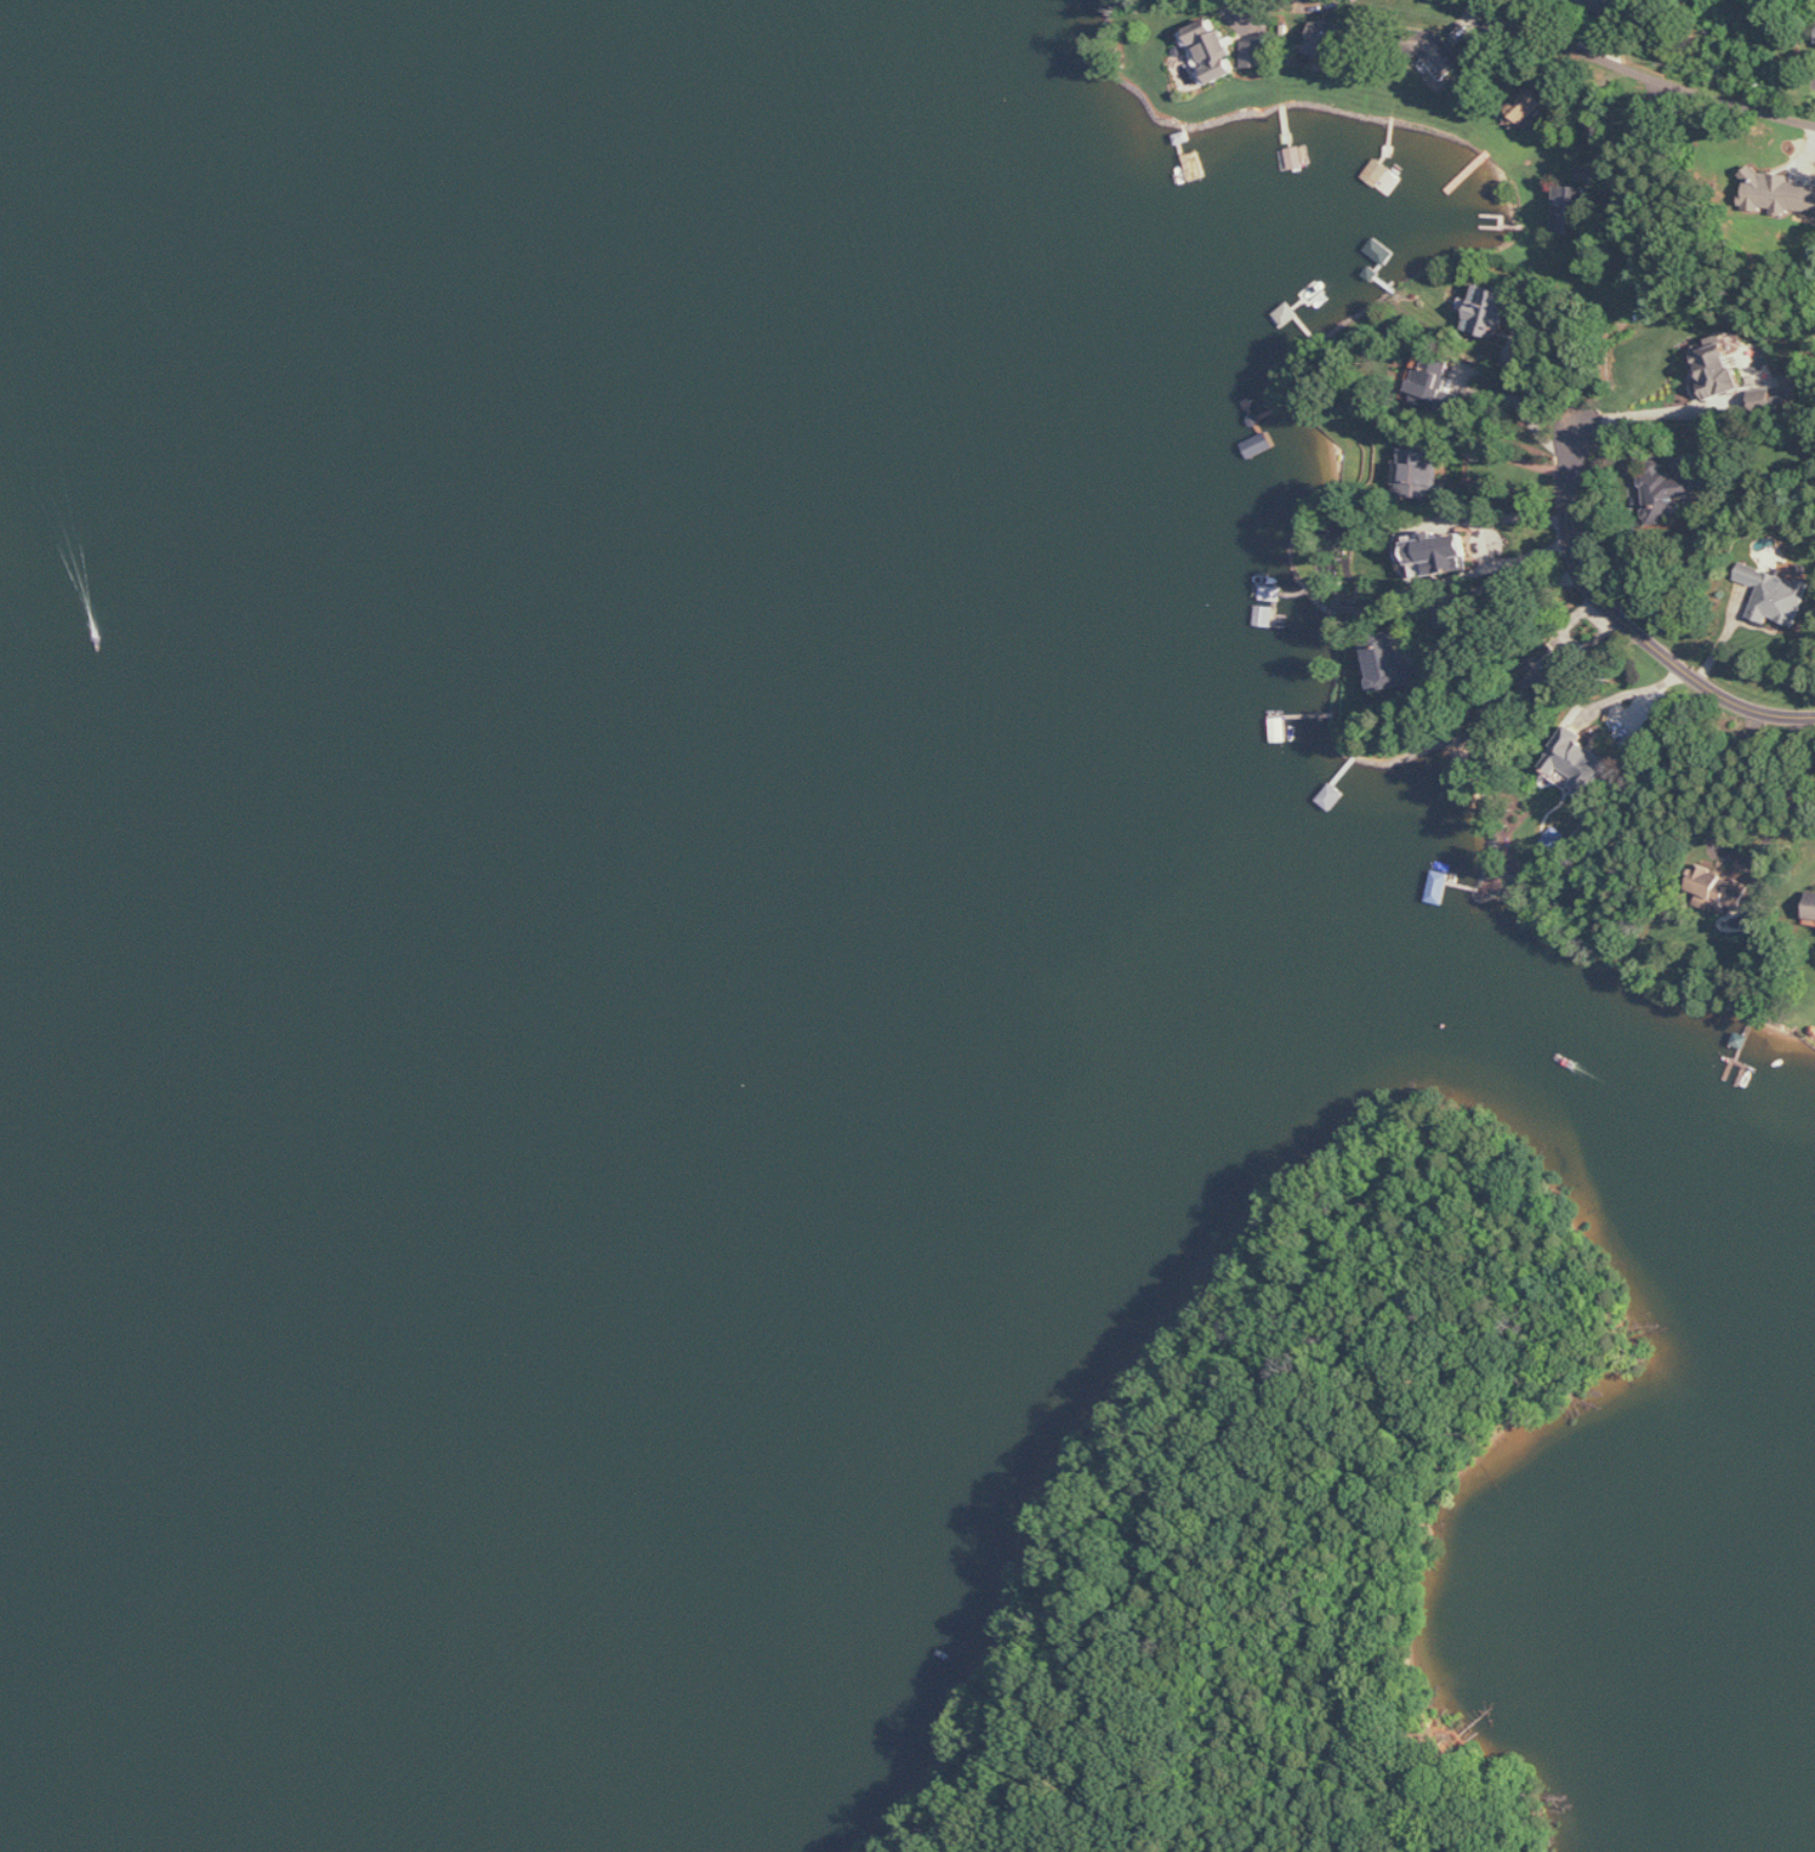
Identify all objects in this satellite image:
building: (1604, 6)
building: (1330, 39)
building: (1214, 47)
building: (1440, 51)
building: (1258, 53)
road: (1634, 63)
building: (1527, 106)
road: (1628, 133)
building: (1779, 193)
building: (1571, 210)
building: (1487, 311)
building: (1720, 371)
building: (1432, 384)
building: (1763, 400)
road: (1648, 410)
road: (1510, 455)
building: (1419, 468)
building: (1667, 494)
road: (1484, 539)
building: (1441, 555)
building: (1777, 593)
road: (1451, 595)
road: (1616, 634)
building: (1392, 663)
building: (1548, 670)
building: (1578, 762)
road: (1737, 859)
building: (1720, 891)
building: (1811, 905)
river: (404, 911)

